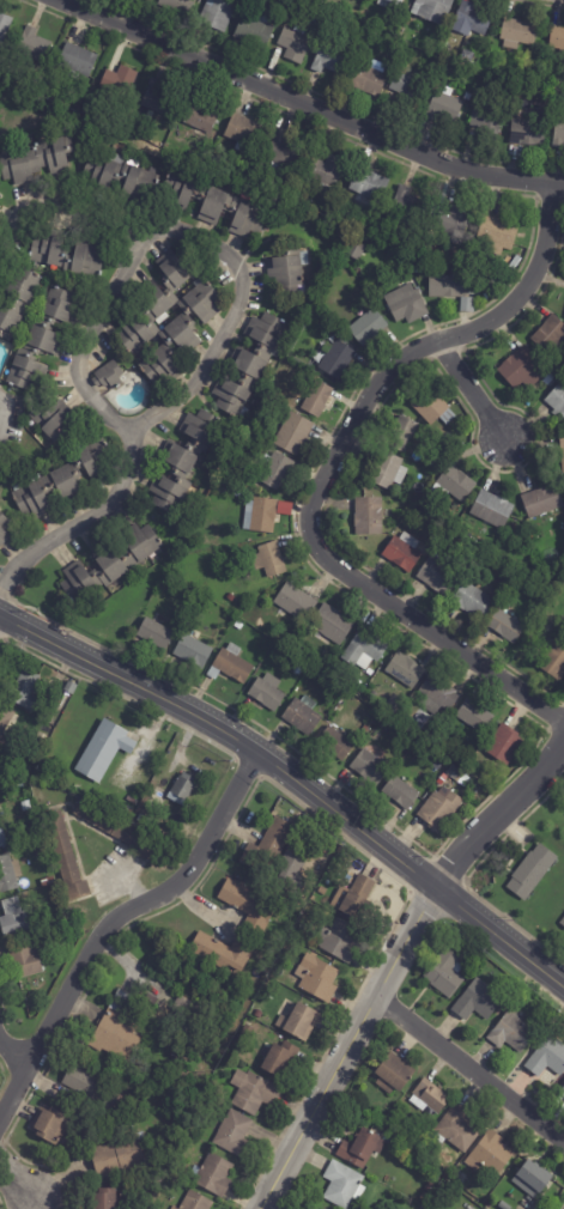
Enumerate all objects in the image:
building: (285, 0)
building: (323, 2)
building: (390, 2)
building: (180, 6)
building: (432, 10)
building: (217, 13)
building: (472, 18)
building: (4, 26)
building: (255, 29)
building: (518, 32)
building: (557, 37)
building: (436, 41)
building: (295, 44)
building: (32, 45)
building: (467, 55)
building: (330, 59)
building: (77, 61)
building: (432, 68)
building: (532, 79)
building: (369, 80)
building: (119, 81)
building: (404, 84)
building: (46, 92)
building: (158, 98)
building: (444, 104)
road: (308, 108)
building: (205, 119)
building: (487, 121)
building: (527, 132)
building: (244, 134)
building: (559, 134)
building: (283, 152)
building: (37, 160)
building: (325, 170)
building: (119, 176)
building: (369, 187)
building: (408, 202)
building: (213, 203)
road: (10, 215)
road: (74, 221)
building: (449, 224)
road: (178, 230)
building: (498, 233)
building: (408, 245)
building: (356, 250)
building: (395, 253)
building: (67, 255)
building: (304, 259)
building: (479, 266)
building: (487, 267)
building: (419, 268)
building: (286, 272)
building: (487, 281)
building: (453, 285)
building: (16, 298)
building: (156, 300)
building: (406, 304)
building: (467, 304)
building: (368, 327)
building: (182, 334)
building: (551, 335)
building: (41, 341)
building: (336, 359)
building: (250, 363)
building: (522, 369)
building: (109, 376)
building: (551, 378)
road: (469, 389)
building: (317, 399)
building: (557, 401)
building: (432, 407)
building: (53, 419)
building: (293, 433)
building: (402, 435)
building: (244, 439)
building: (562, 450)
building: (187, 462)
building: (433, 464)
road: (326, 469)
building: (275, 470)
building: (389, 472)
building: (225, 474)
building: (65, 480)
building: (454, 484)
building: (239, 492)
building: (542, 500)
building: (492, 510)
building: (262, 515)
building: (369, 516)
road: (83, 518)
building: (4, 529)
building: (404, 553)
building: (501, 557)
building: (269, 560)
building: (110, 565)
building: (441, 575)
building: (505, 578)
building: (172, 583)
building: (230, 599)
building: (509, 599)
building: (474, 601)
building: (296, 602)
building: (518, 607)
building: (332, 625)
building: (238, 626)
building: (508, 627)
building: (156, 633)
building: (550, 640)
building: (285, 643)
building: (365, 651)
building: (193, 652)
building: (554, 660)
building: (231, 666)
building: (304, 670)
building: (406, 670)
building: (71, 686)
building: (23, 688)
building: (439, 692)
building: (267, 693)
building: (375, 695)
building: (393, 710)
building: (303, 716)
building: (474, 717)
building: (6, 724)
building: (40, 739)
building: (335, 745)
building: (504, 746)
building: (104, 748)
building: (32, 751)
building: (370, 768)
building: (0, 771)
building: (455, 773)
road: (295, 778)
building: (20, 779)
building: (183, 785)
building: (1, 786)
building: (400, 794)
building: (25, 806)
building: (563, 809)
building: (128, 810)
building: (439, 812)
road: (498, 816)
building: (142, 819)
building: (116, 827)
building: (2, 834)
building: (268, 845)
building: (38, 849)
building: (66, 855)
building: (295, 862)
building: (8, 873)
building: (532, 873)
building: (48, 880)
building: (322, 891)
building: (354, 895)
building: (248, 904)
road: (114, 915)
building: (14, 918)
building: (563, 924)
building: (303, 927)
building: (340, 940)
building: (42, 941)
building: (223, 953)
building: (26, 961)
building: (445, 972)
building: (317, 977)
building: (478, 1001)
building: (150, 1003)
building: (259, 1014)
building: (302, 1020)
building: (513, 1031)
building: (114, 1033)
building: (245, 1033)
road: (346, 1047)
road: (13, 1053)
building: (548, 1057)
building: (281, 1058)
road: (468, 1069)
building: (394, 1075)
building: (92, 1088)
building: (254, 1090)
building: (563, 1093)
building: (430, 1096)
building: (165, 1102)
building: (134, 1120)
building: (53, 1124)
building: (456, 1129)
building: (235, 1134)
building: (362, 1148)
building: (490, 1154)
building: (120, 1155)
building: (213, 1174)
building: (459, 1178)
building: (533, 1179)
building: (344, 1184)
road: (17, 1189)
building: (156, 1193)
building: (425, 1197)
building: (104, 1198)
building: (196, 1201)
building: (504, 1205)
building: (175, 1207)
building: (320, 1208)

